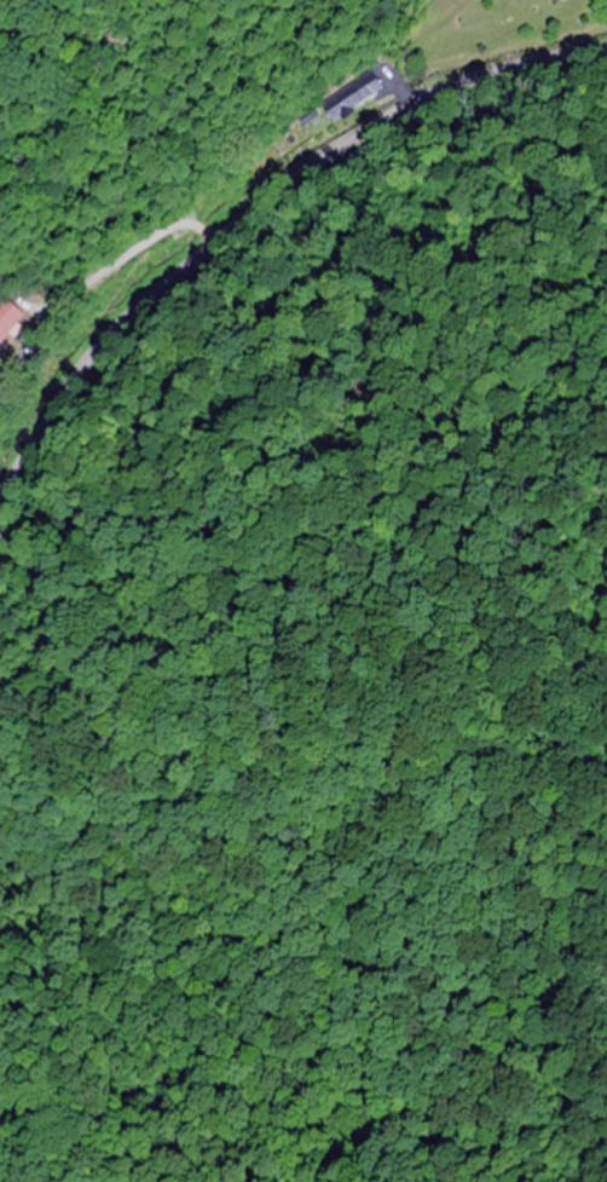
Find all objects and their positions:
building: (348, 98)
road: (266, 198)
building: (8, 321)

